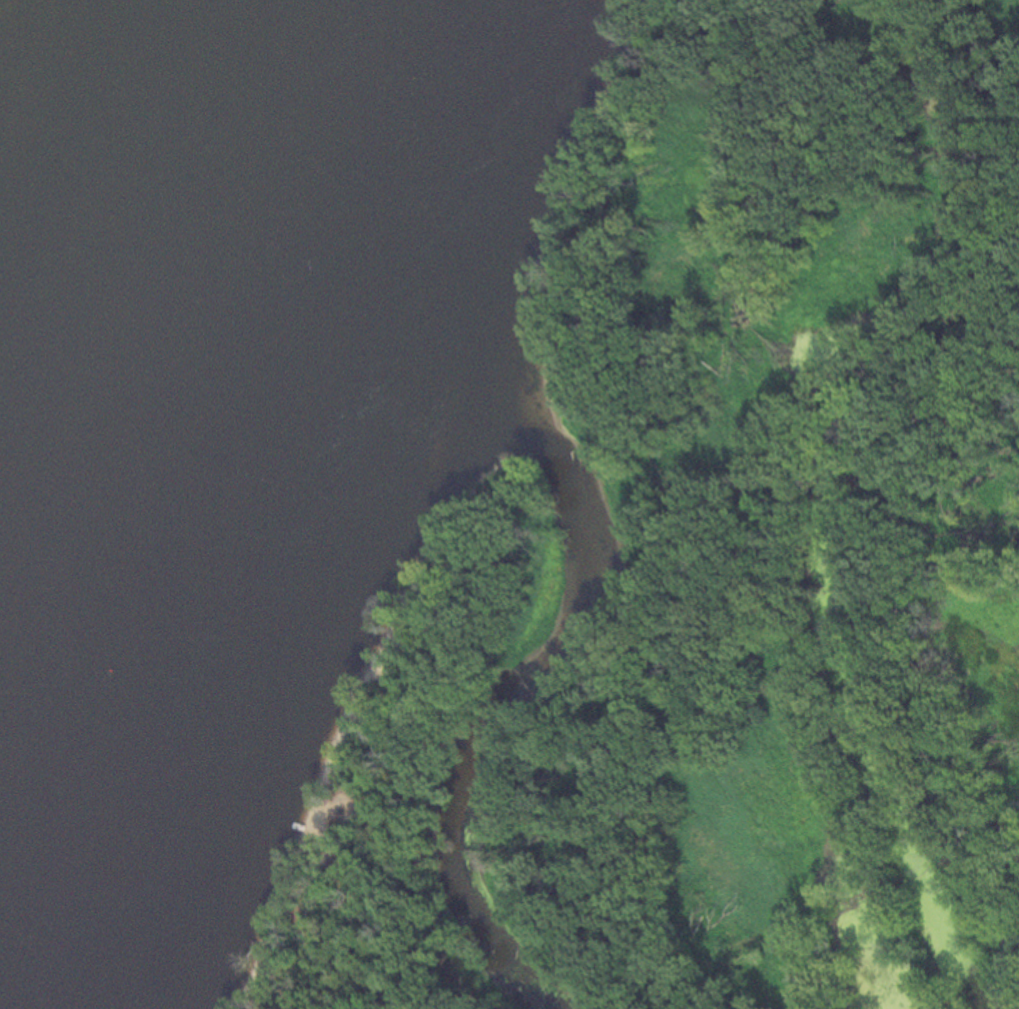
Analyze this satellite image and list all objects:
river: (162, 382)

